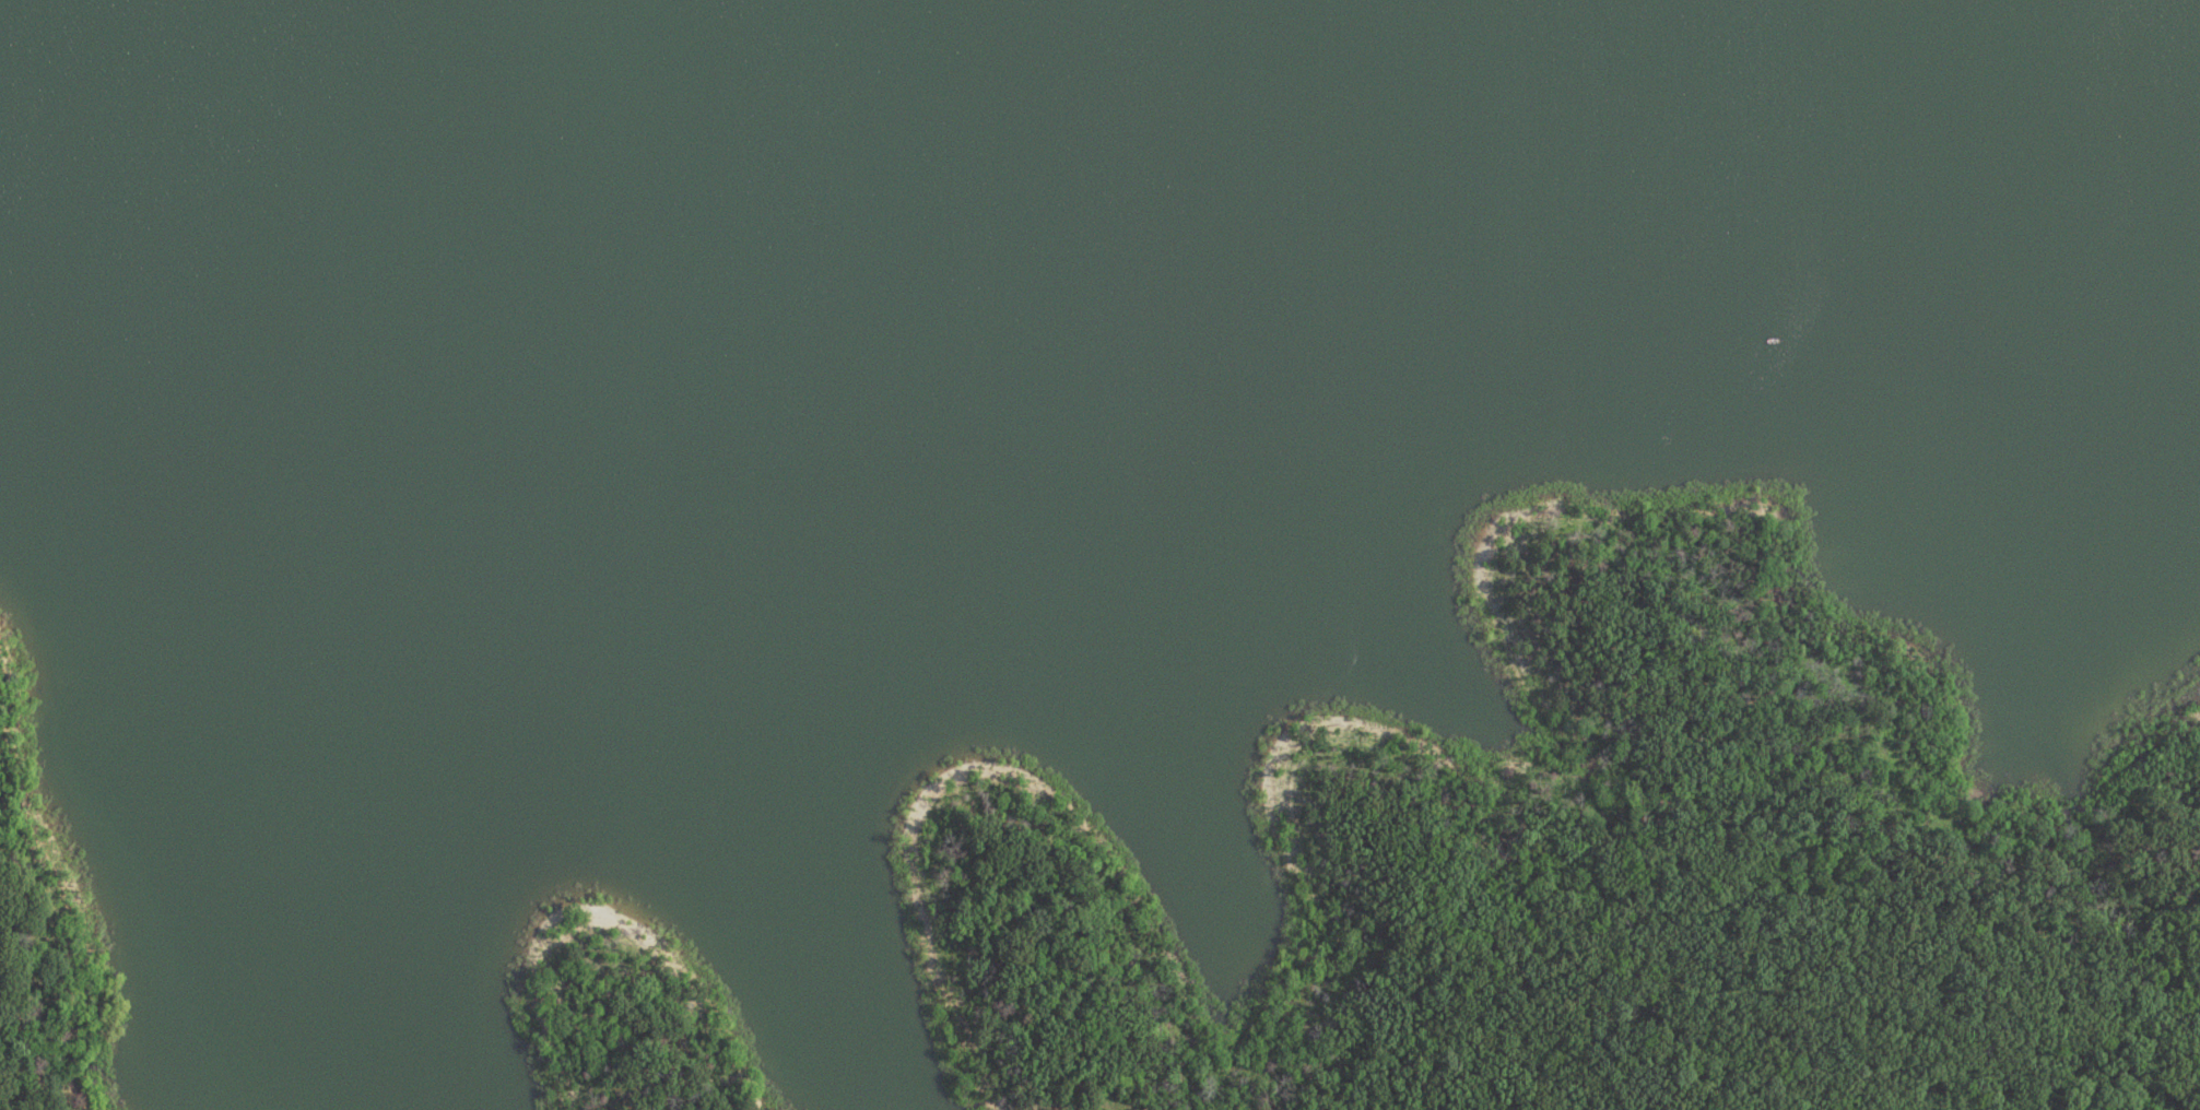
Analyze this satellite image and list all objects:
road: (1080, 1107)
road: (998, 1108)
road: (1030, 1109)

